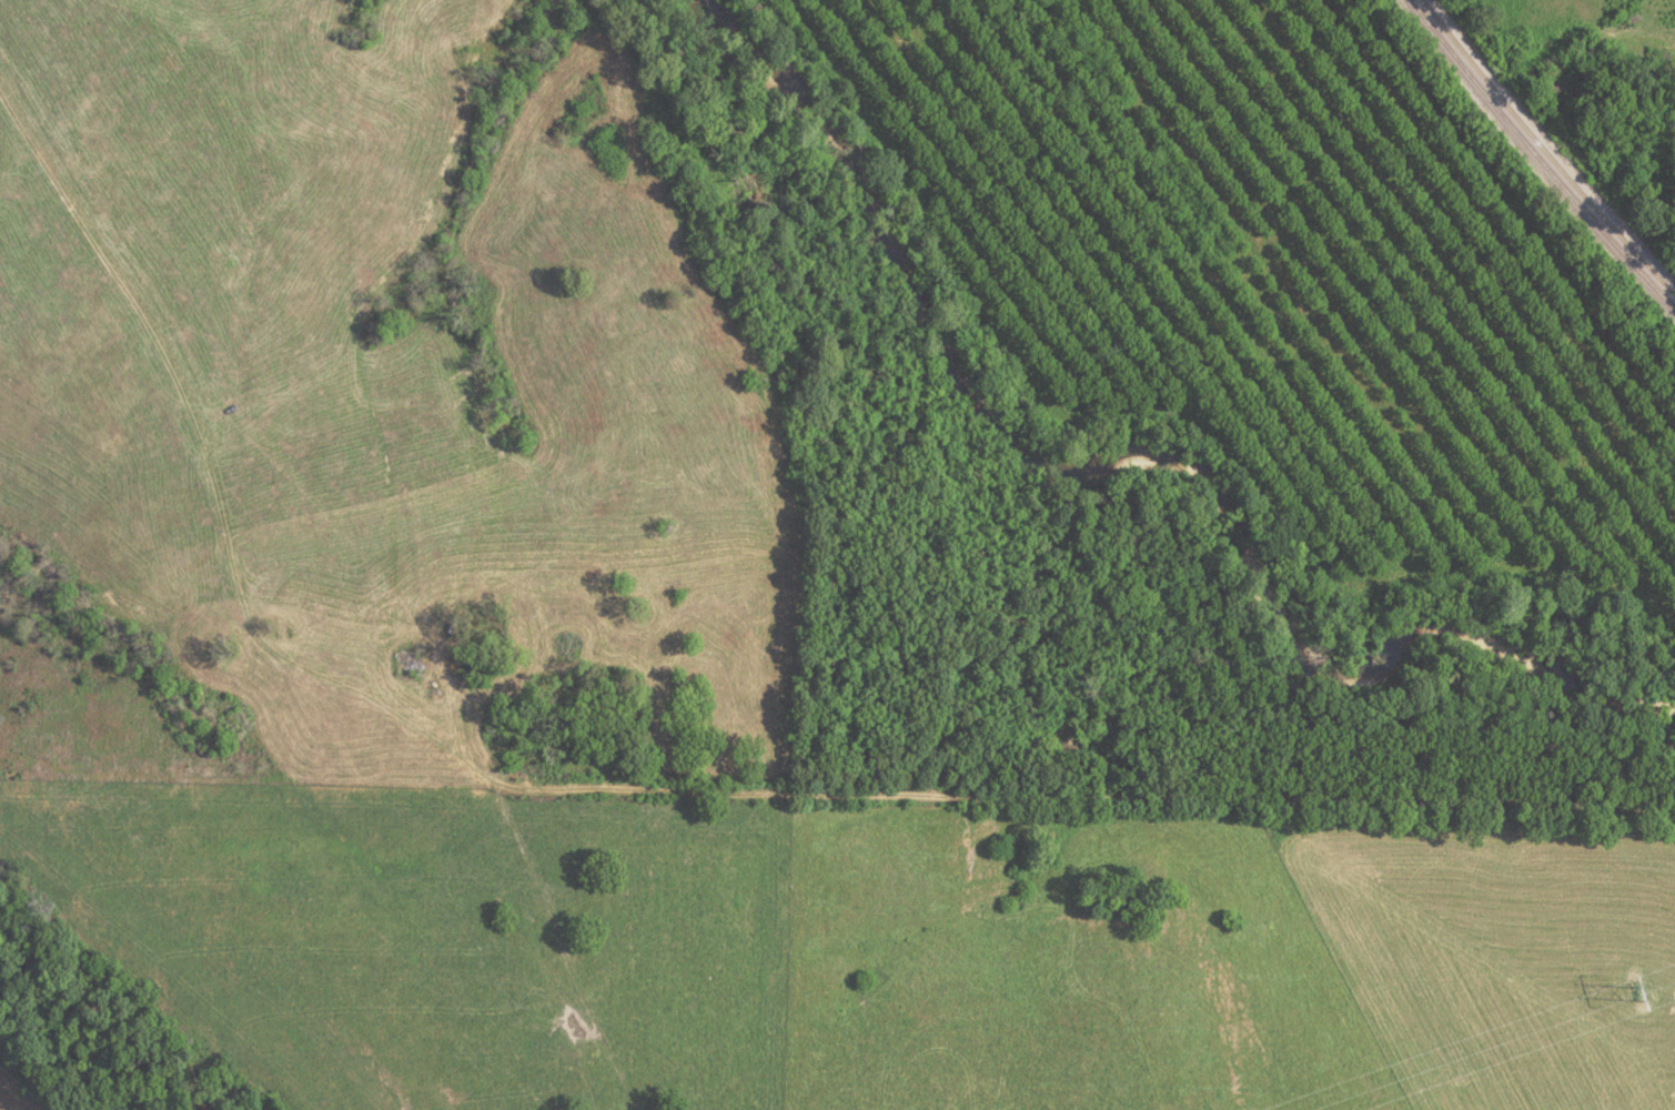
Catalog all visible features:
railway: (1543, 150)
railway: (1538, 158)
power tower: (1635, 995)

